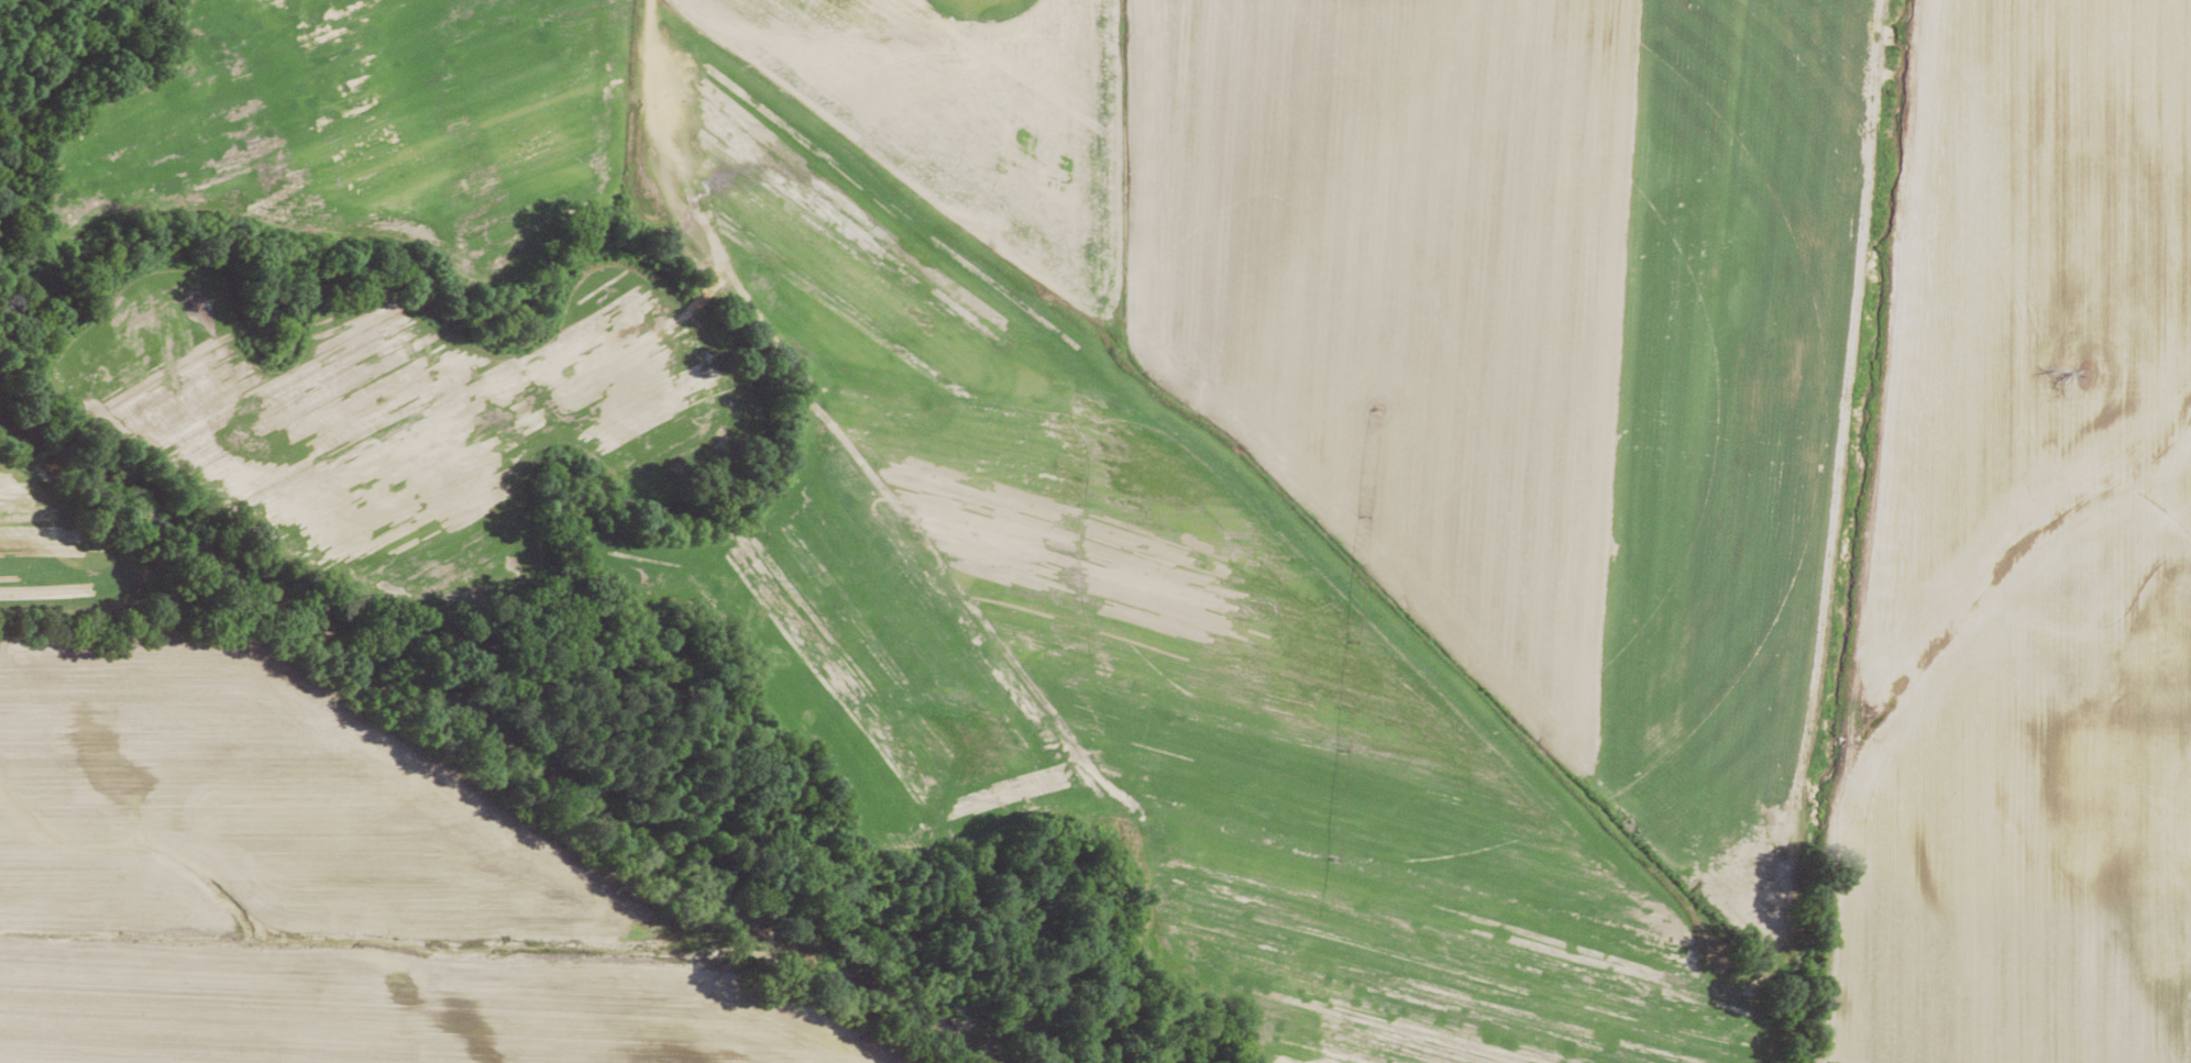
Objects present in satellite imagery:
road: (1175, 899)

